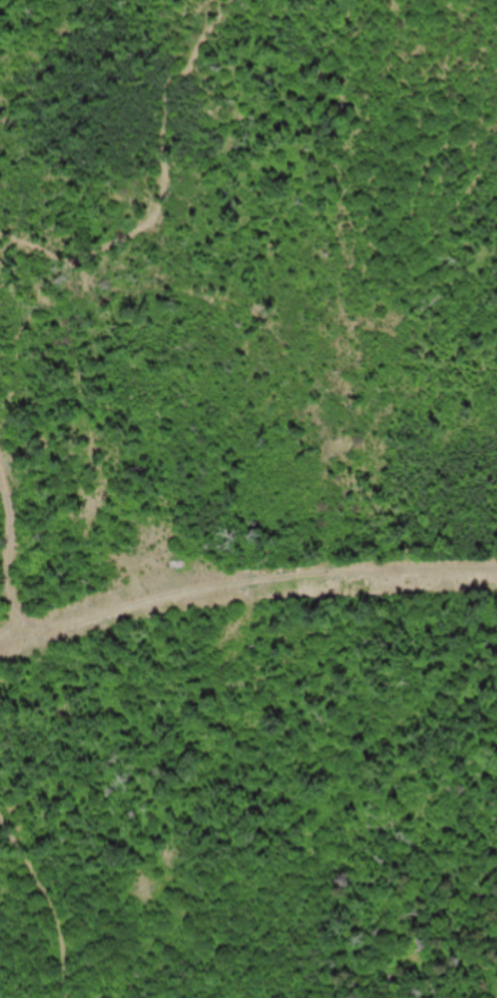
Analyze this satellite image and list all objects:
road: (244, 596)

